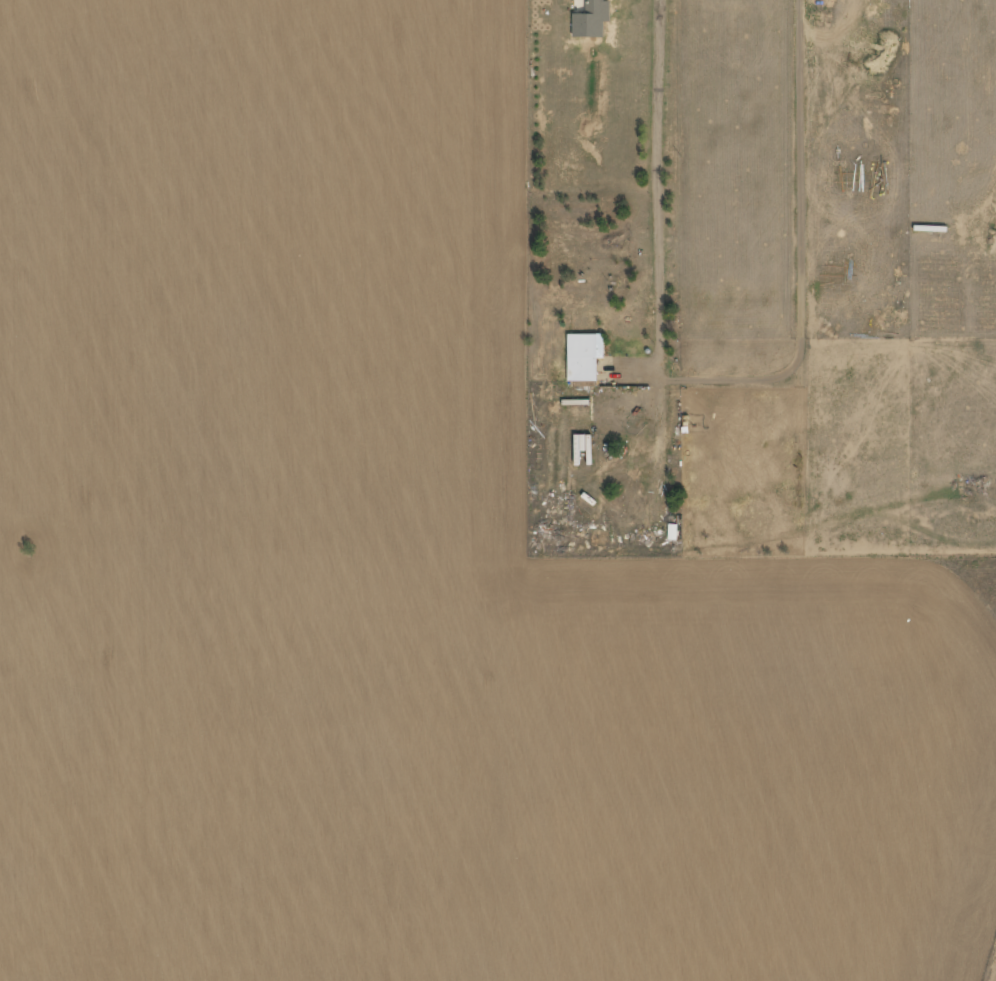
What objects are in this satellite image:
building: (592, 19)
building: (585, 357)

